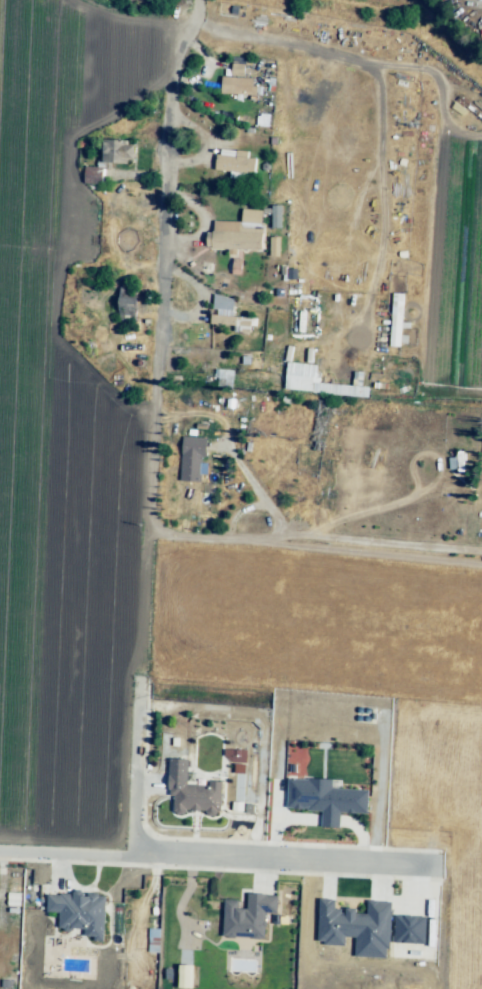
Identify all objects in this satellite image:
building: (236, 69)
building: (237, 84)
building: (111, 150)
building: (127, 156)
building: (235, 161)
building: (93, 177)
building: (276, 214)
road: (382, 214)
building: (251, 218)
building: (248, 243)
building: (273, 246)
building: (103, 297)
building: (244, 298)
building: (265, 299)
building: (222, 302)
building: (127, 308)
building: (396, 319)
building: (232, 323)
building: (146, 325)
building: (224, 377)
building: (380, 385)
building: (321, 386)
road: (150, 430)
crop: (63, 449)
road: (232, 450)
building: (194, 460)
building: (234, 754)
road: (136, 765)
building: (192, 794)
building: (325, 798)
road: (219, 857)
building: (81, 914)
building: (247, 916)
building: (357, 927)
building: (409, 929)
building: (153, 940)
building: (184, 975)

